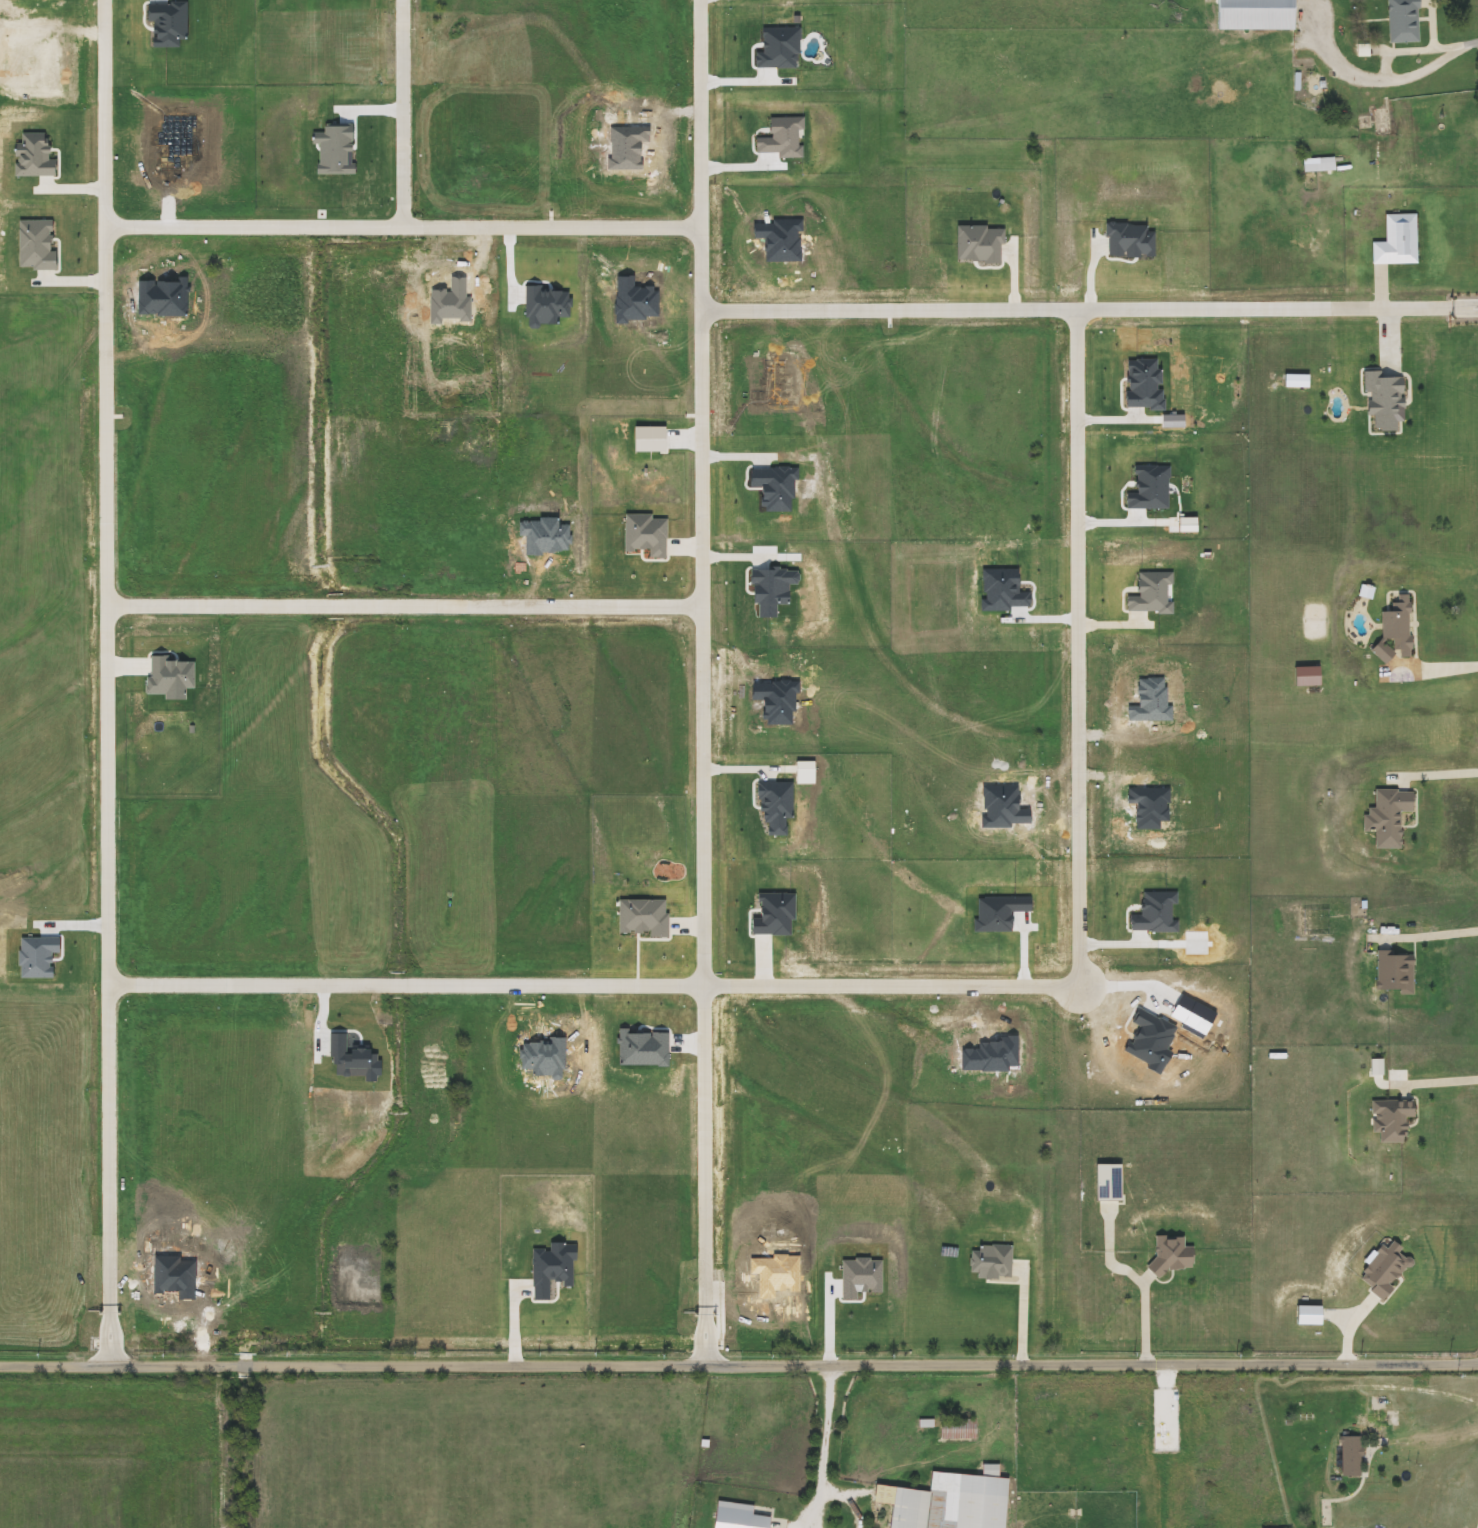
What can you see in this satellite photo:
building: (1259, 14)
building: (1405, 21)
road: (1389, 80)
road: (104, 111)
road: (403, 111)
road: (1278, 304)
road: (106, 497)
road: (405, 601)
road: (1437, 667)
road: (704, 682)
road: (1445, 774)
road: (1434, 935)
road: (1082, 942)
road: (1434, 1081)
road: (1141, 1316)
road: (739, 1365)
building: (960, 1428)
building: (1385, 1428)
road: (1440, 1430)
building: (1357, 1447)
road: (825, 1448)
building: (980, 1498)
building: (907, 1505)
building: (741, 1516)
road: (1475, 1519)

